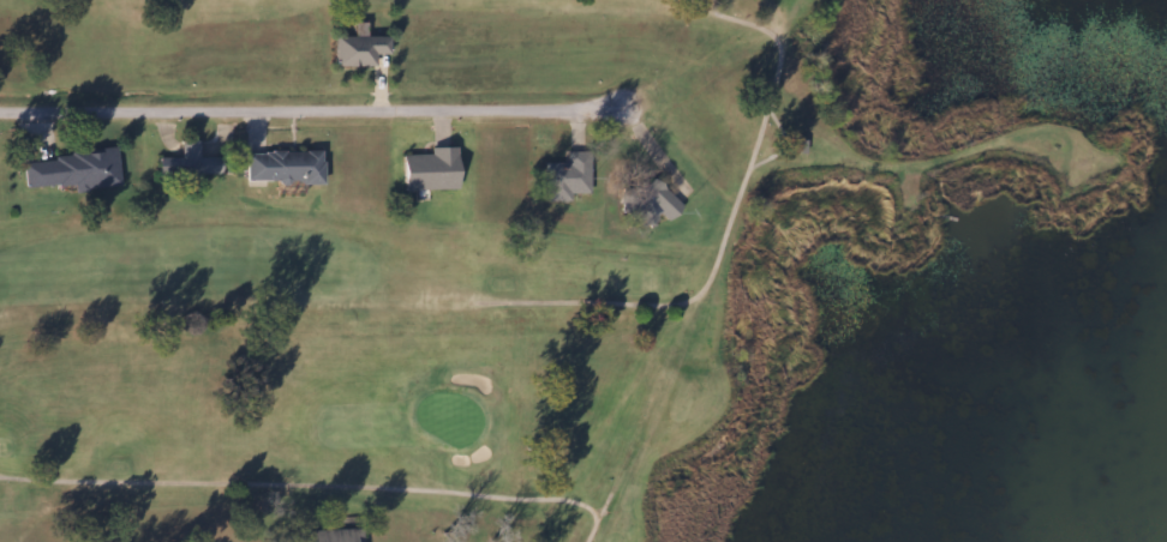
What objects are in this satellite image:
road: (313, 107)
building: (193, 159)
building: (281, 167)
building: (71, 170)
building: (427, 170)
building: (564, 177)
building: (648, 203)
building: (329, 536)

